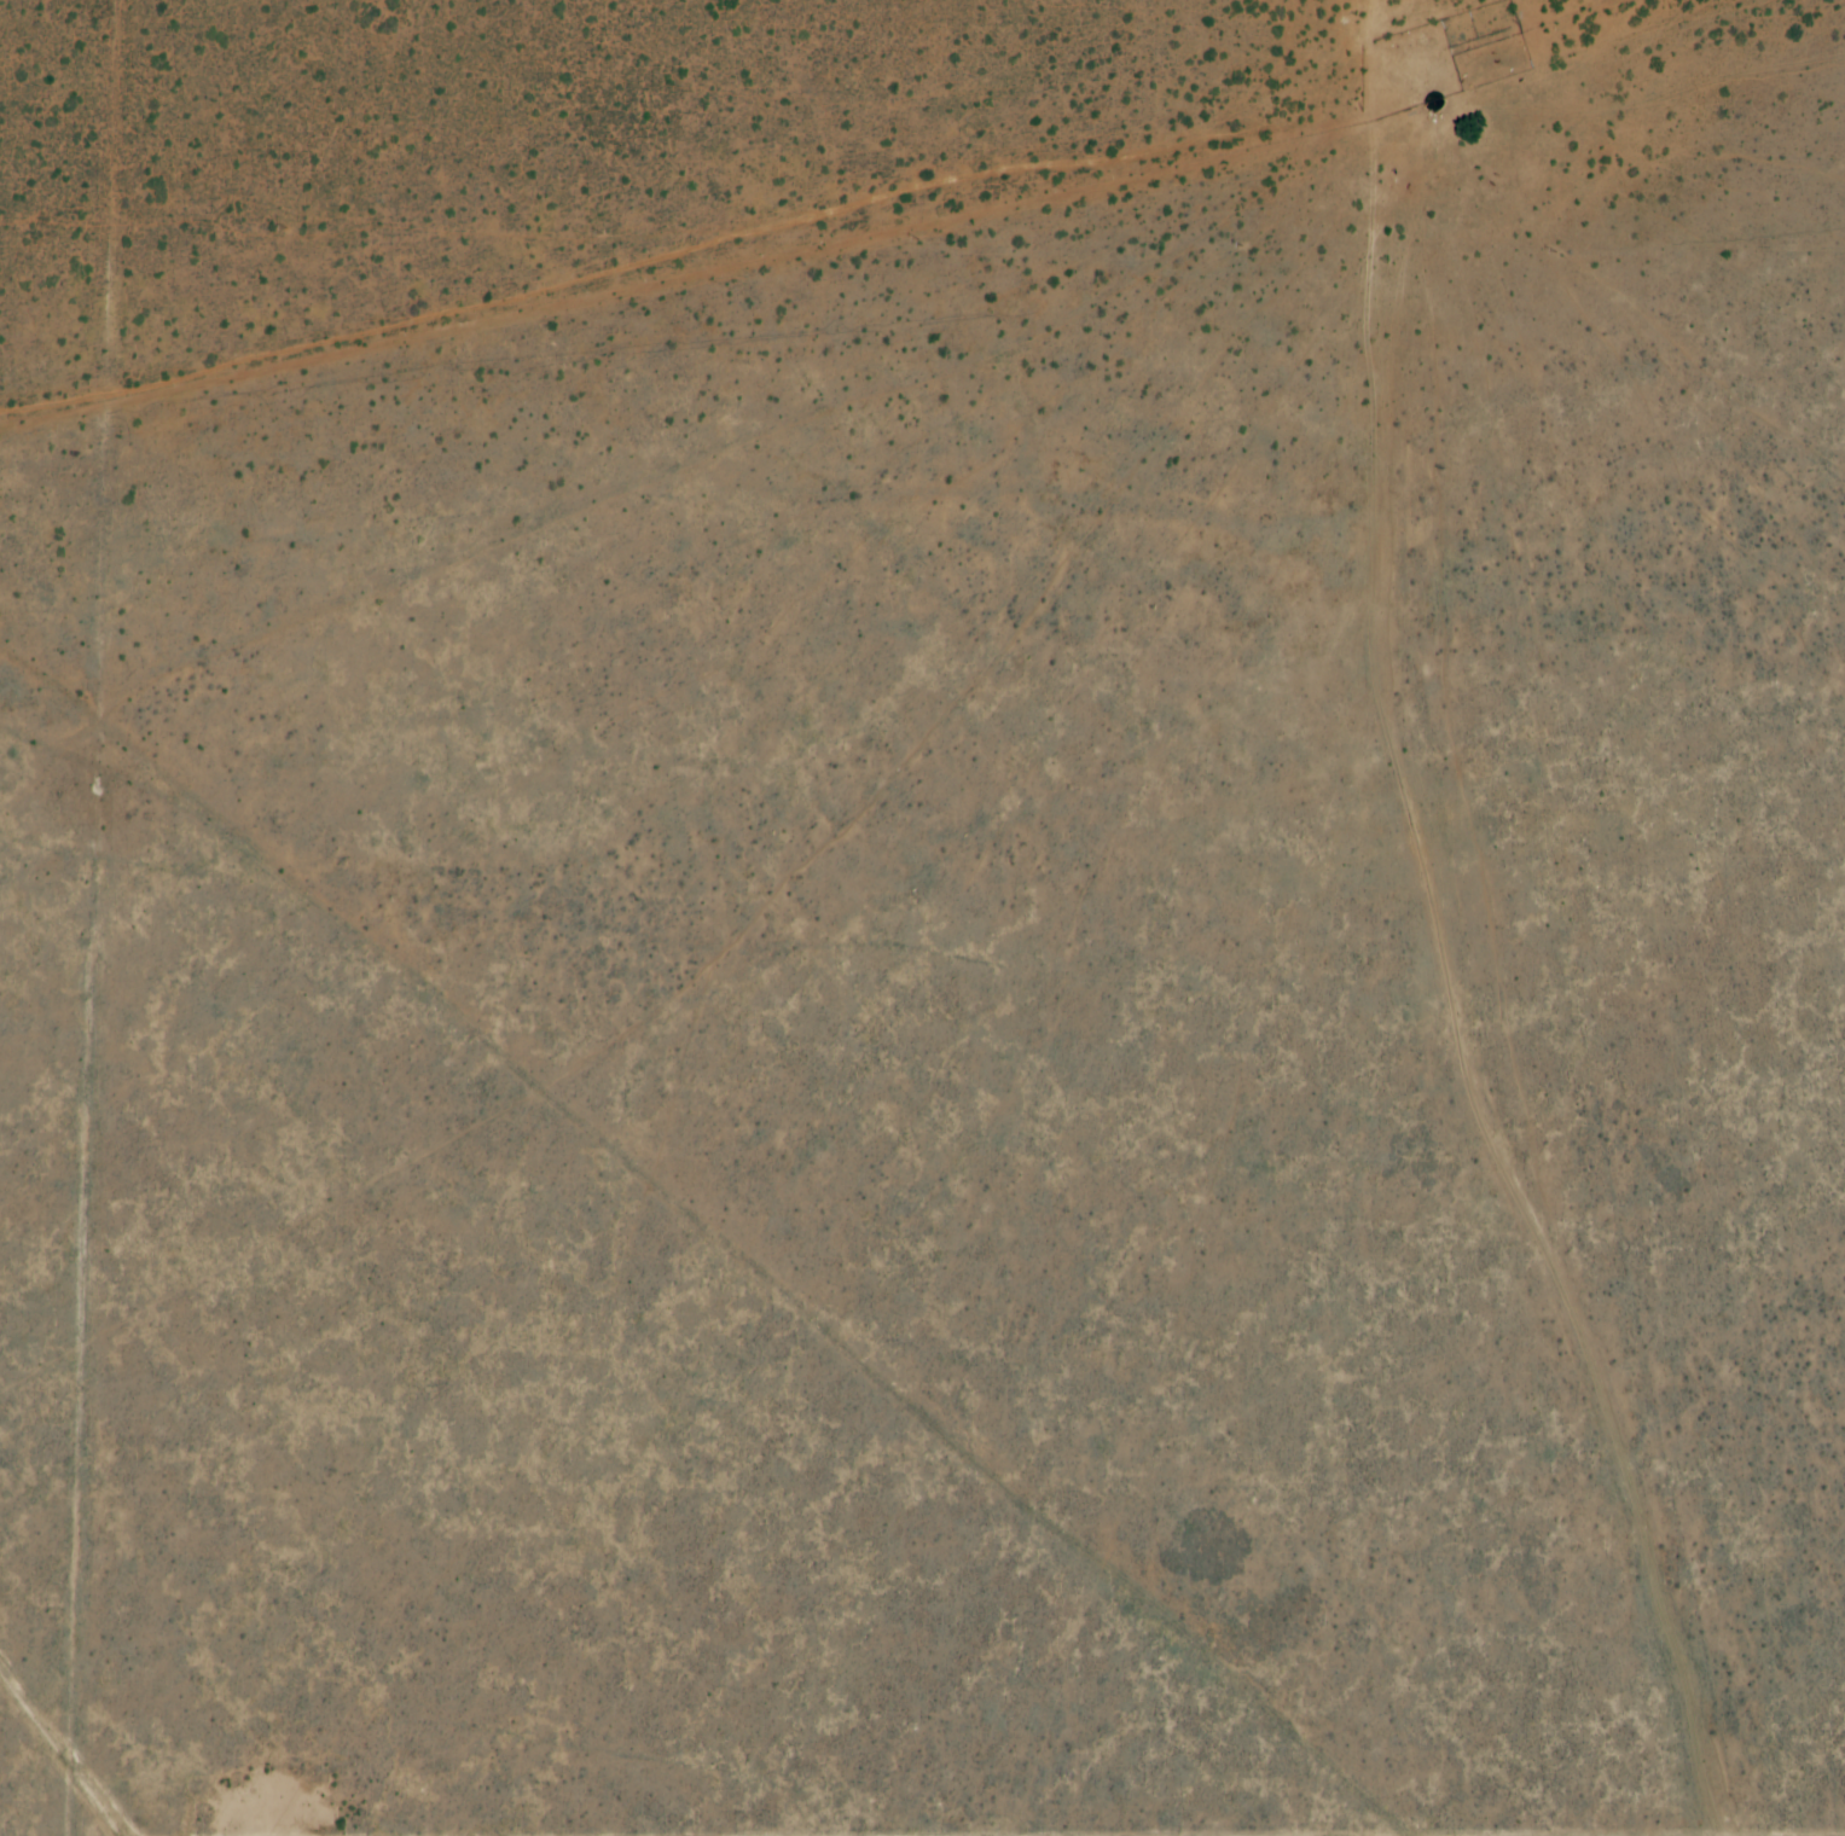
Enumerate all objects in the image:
road: (1386, 945)
road: (694, 1218)

